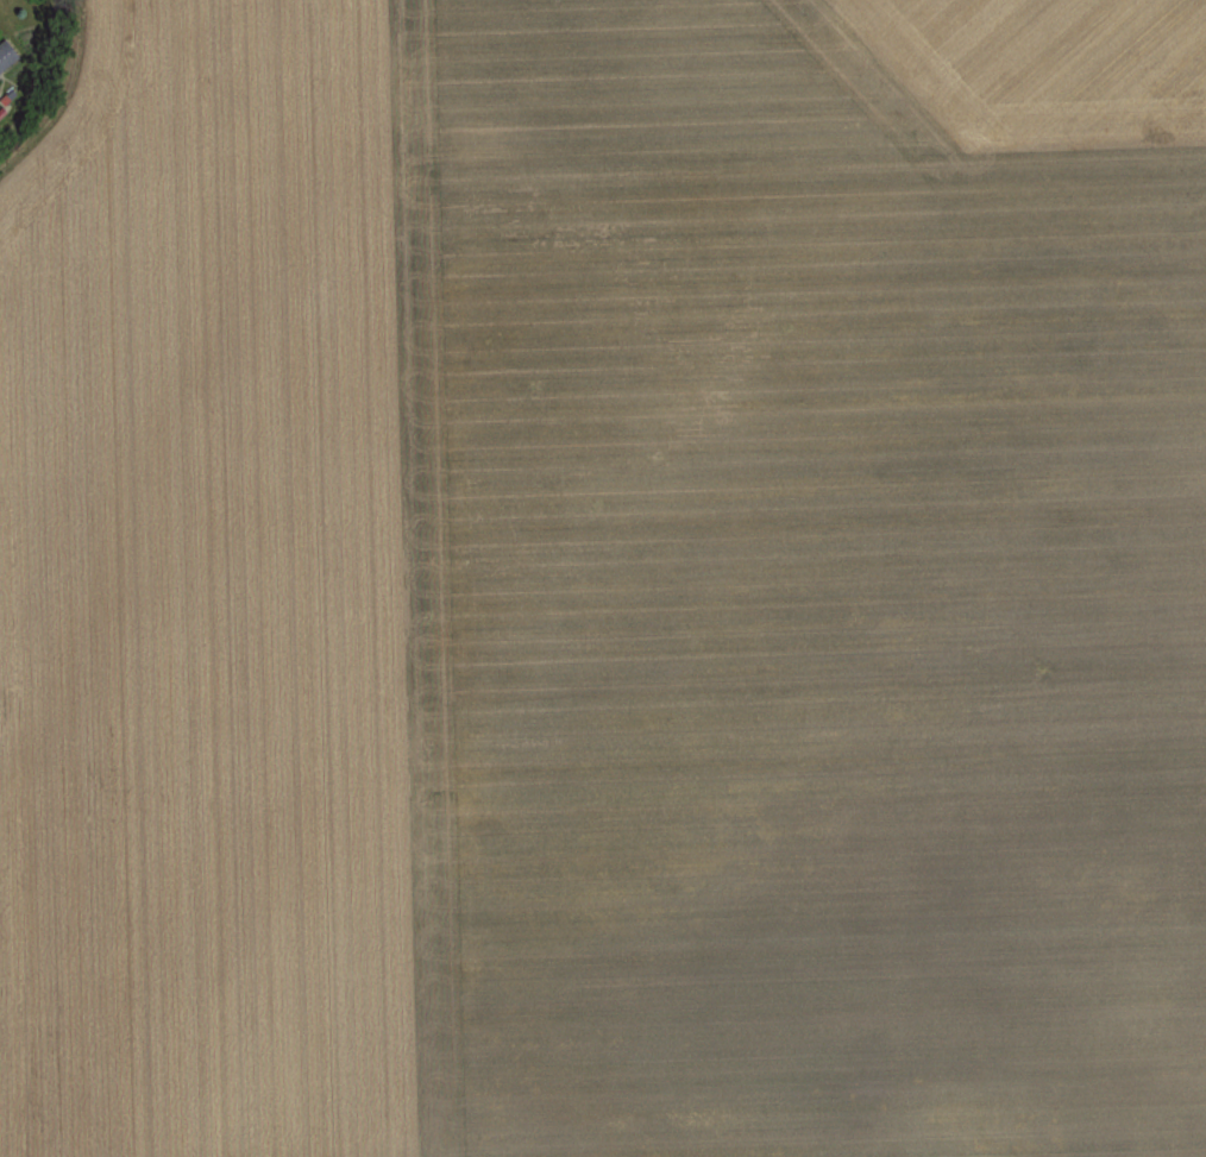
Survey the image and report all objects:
building: (5, 54)

